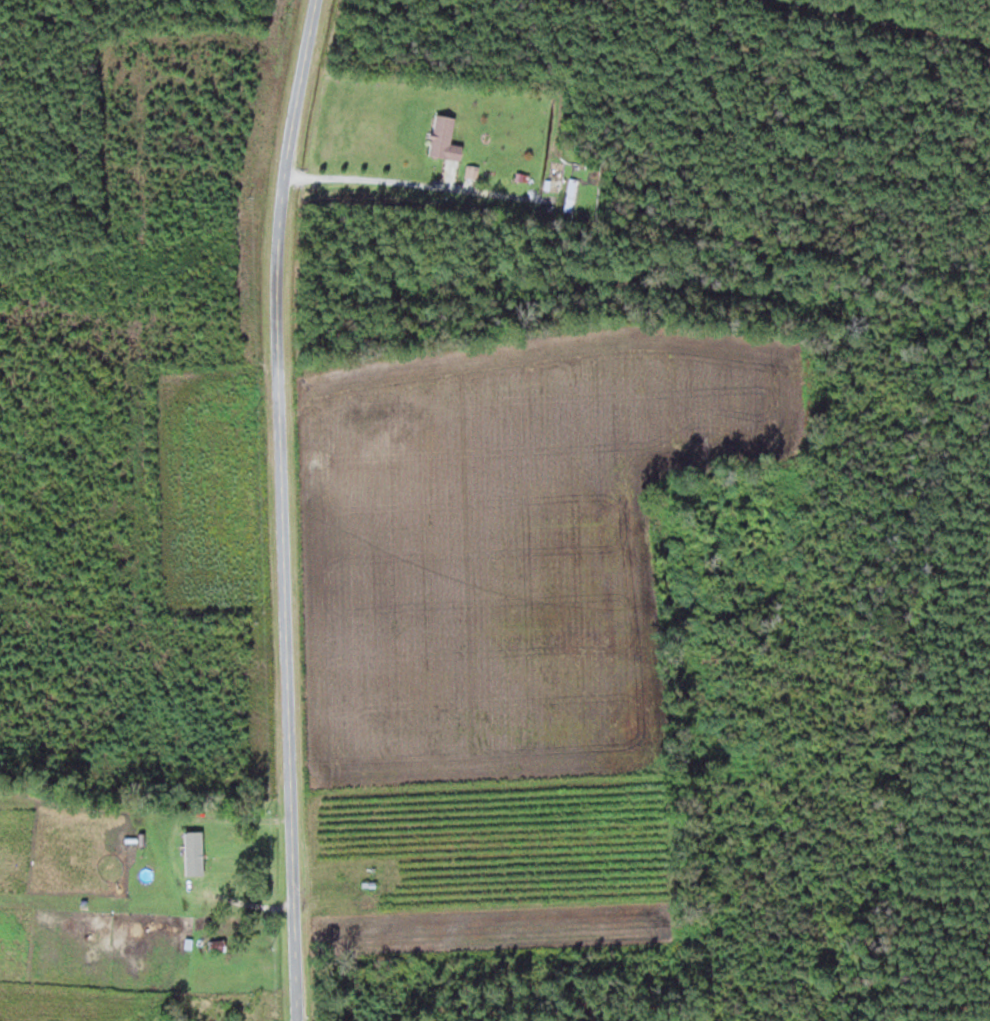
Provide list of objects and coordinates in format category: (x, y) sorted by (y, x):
building: (445, 137)
building: (571, 193)
road: (289, 509)
building: (198, 849)
building: (219, 945)

